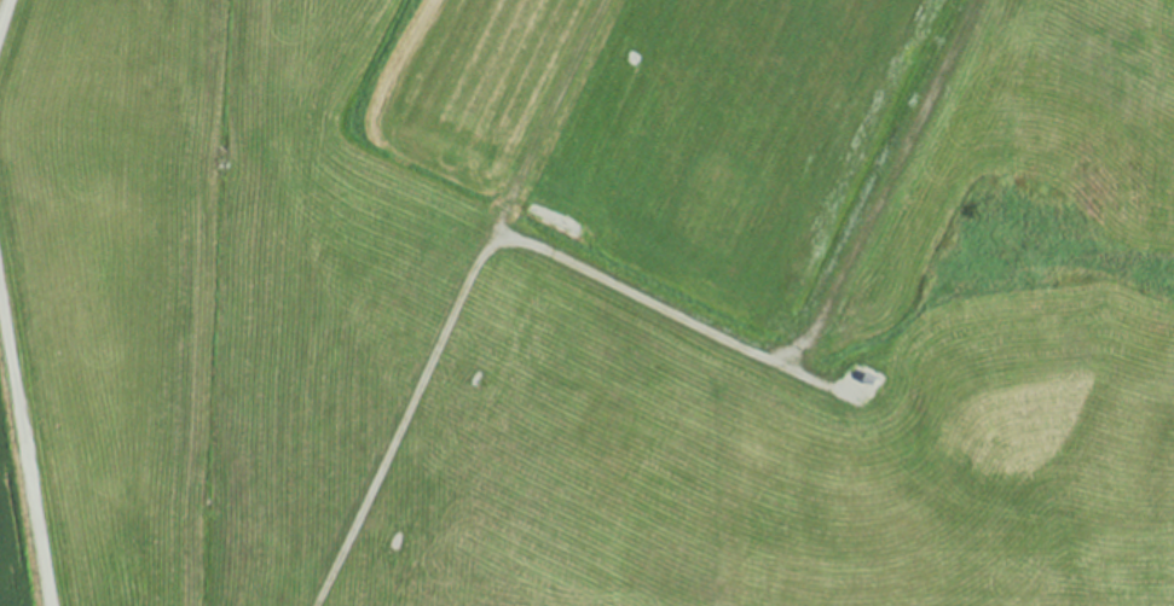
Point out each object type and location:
road: (5, 17)
road: (459, 302)
airport: (586, 303)
road: (816, 331)
building: (868, 375)
road: (821, 381)
road: (27, 444)

